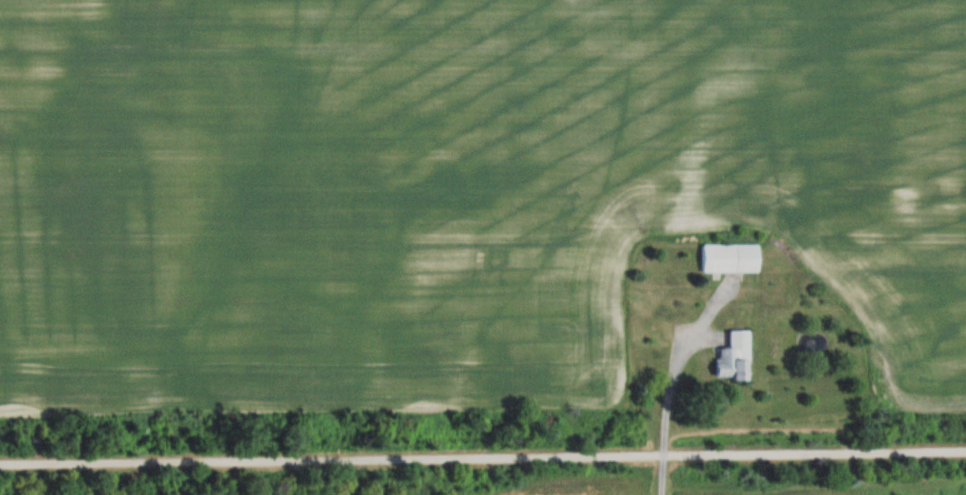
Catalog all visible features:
building: (729, 255)
building: (731, 354)
road: (666, 419)
road: (483, 454)

